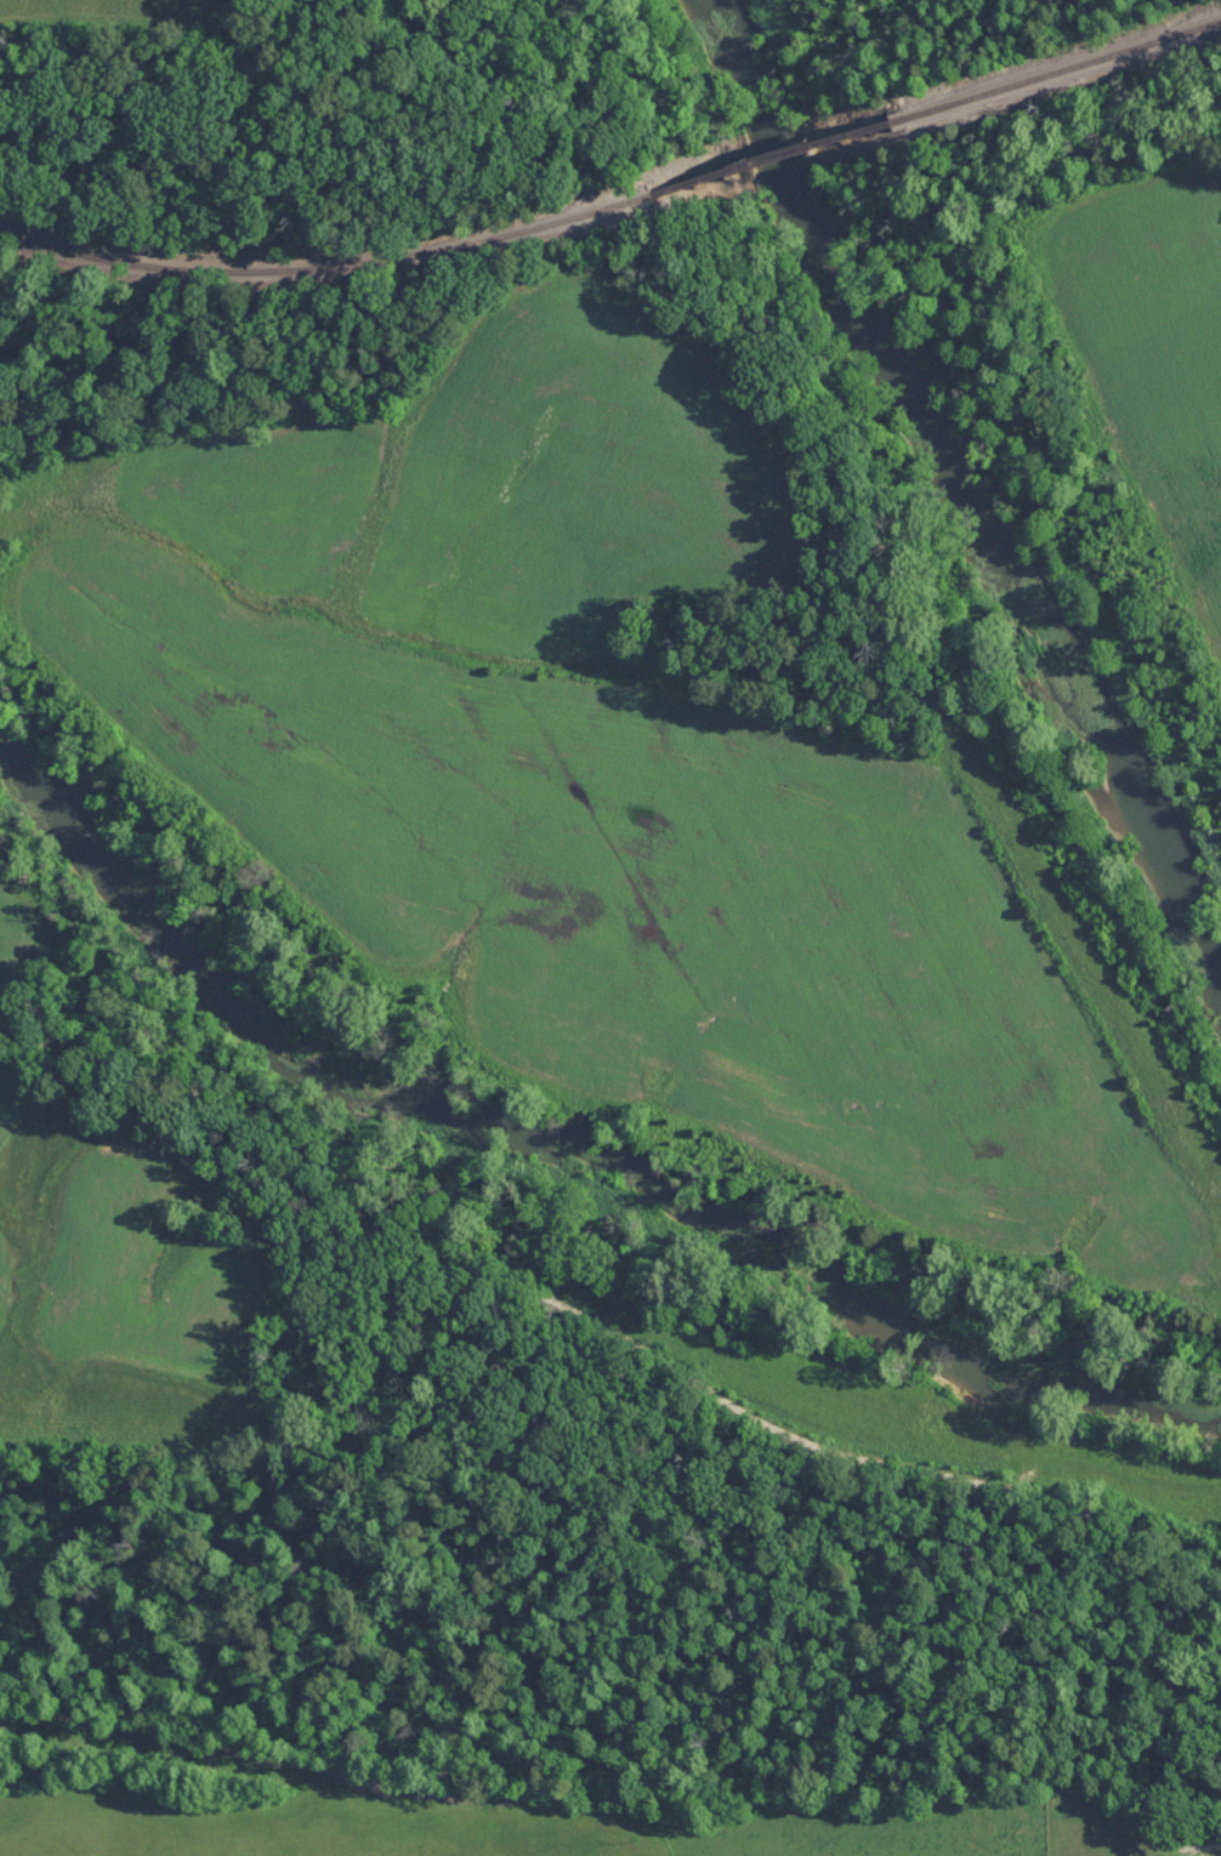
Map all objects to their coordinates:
railway: (1049, 75)
railway: (782, 158)
railway: (345, 262)
river: (938, 500)
river: (551, 1190)
road: (598, 1323)

